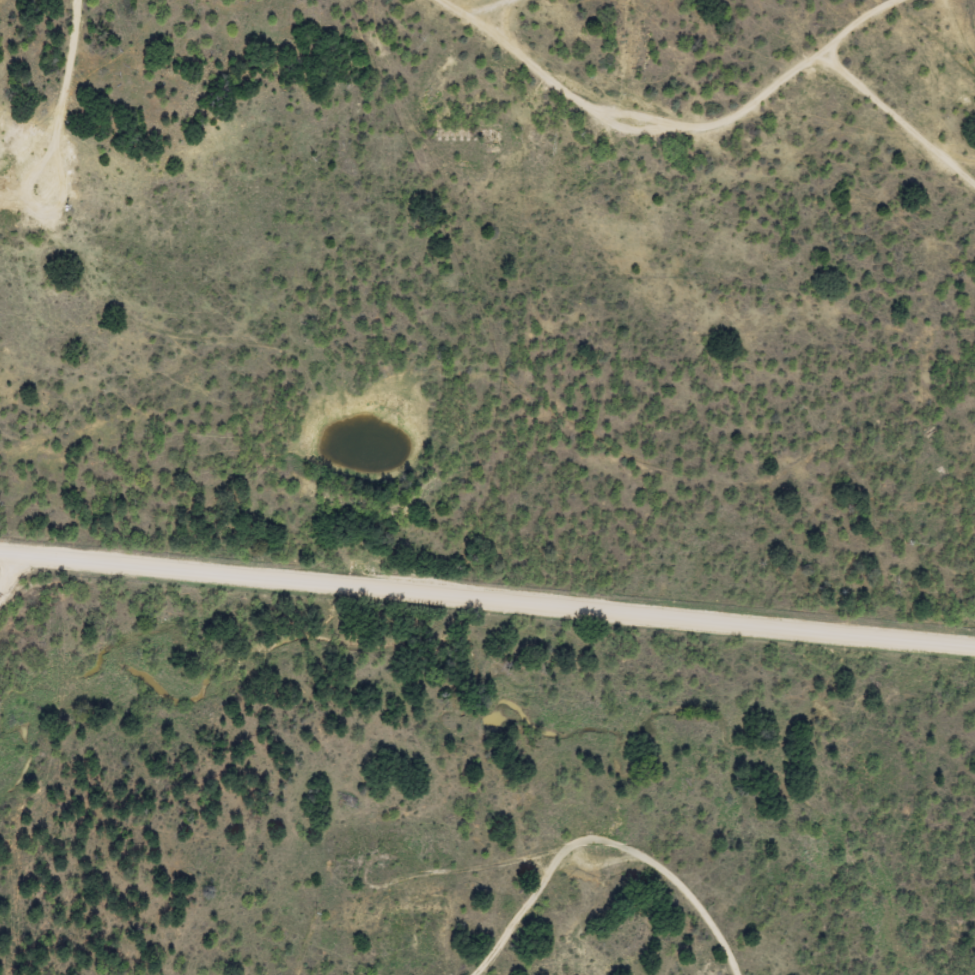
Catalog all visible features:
road: (487, 603)
road: (285, 847)

